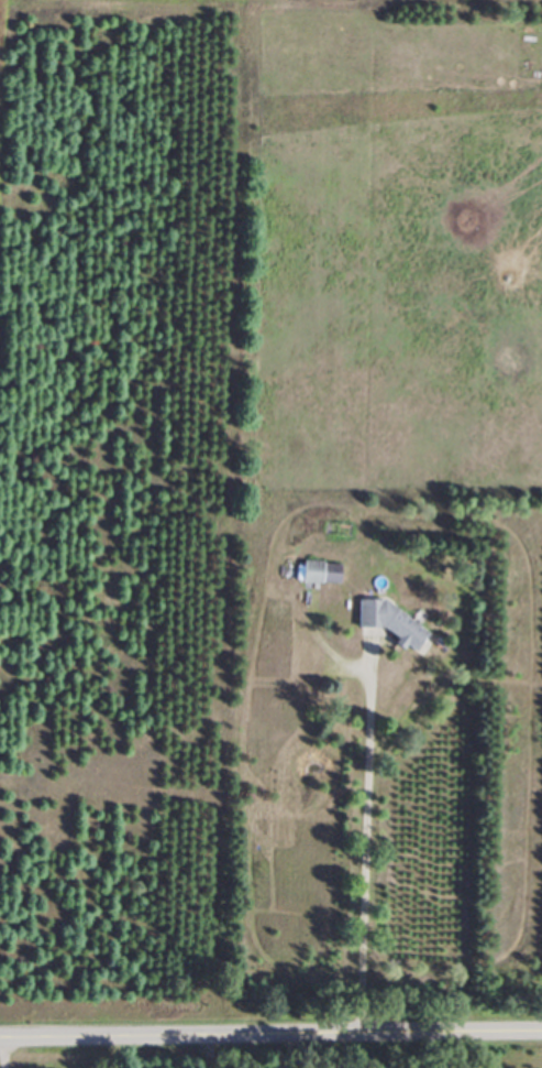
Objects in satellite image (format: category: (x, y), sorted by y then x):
building: (314, 573)
road: (360, 844)
road: (270, 1045)

